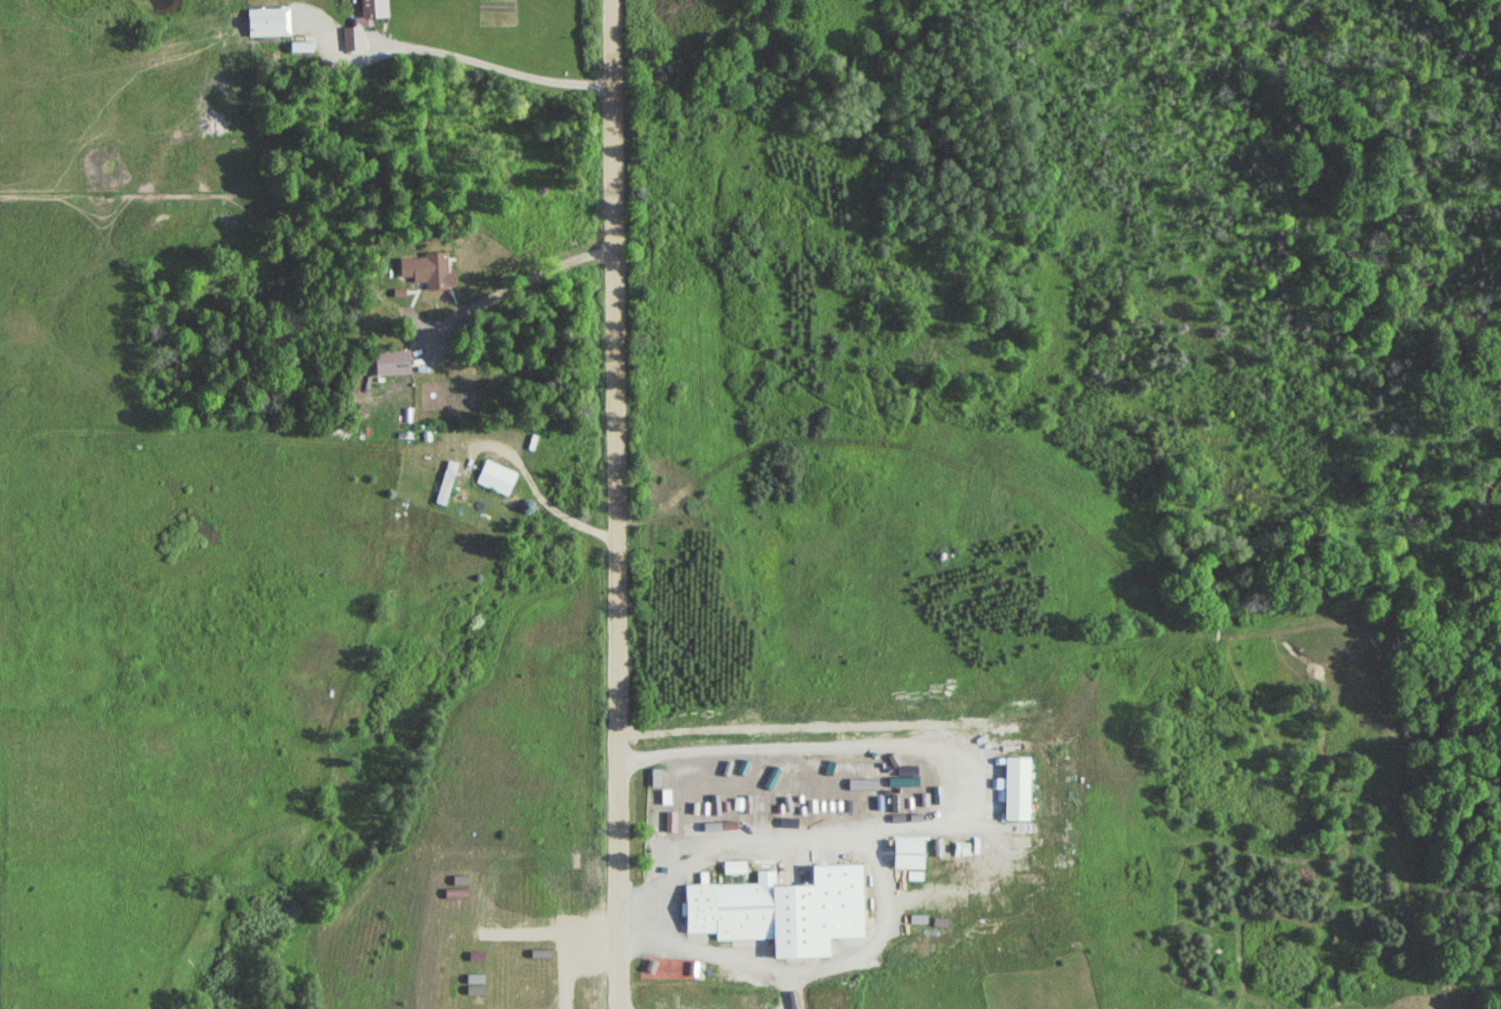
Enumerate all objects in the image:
building: (352, 28)
building: (390, 362)
building: (494, 478)
building: (444, 483)
road: (620, 504)
building: (1013, 789)
building: (772, 913)

